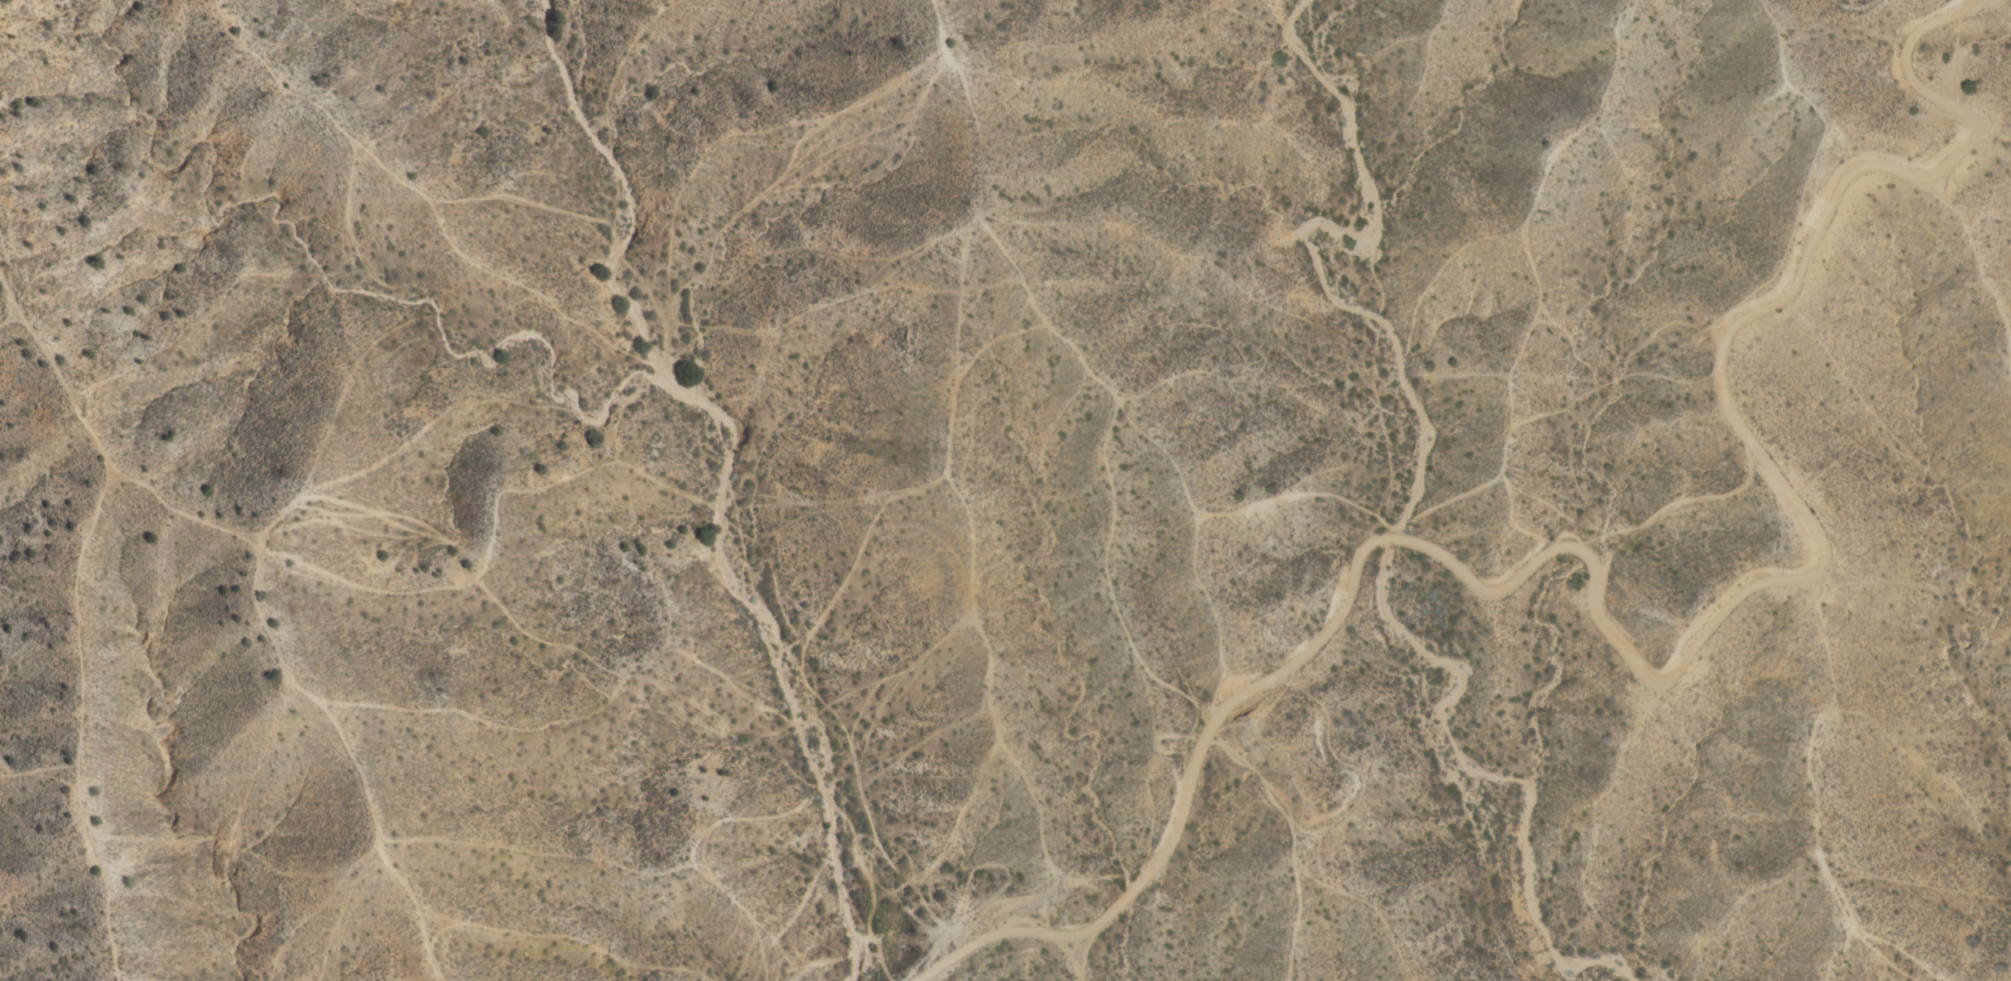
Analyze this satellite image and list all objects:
road: (1624, 658)

